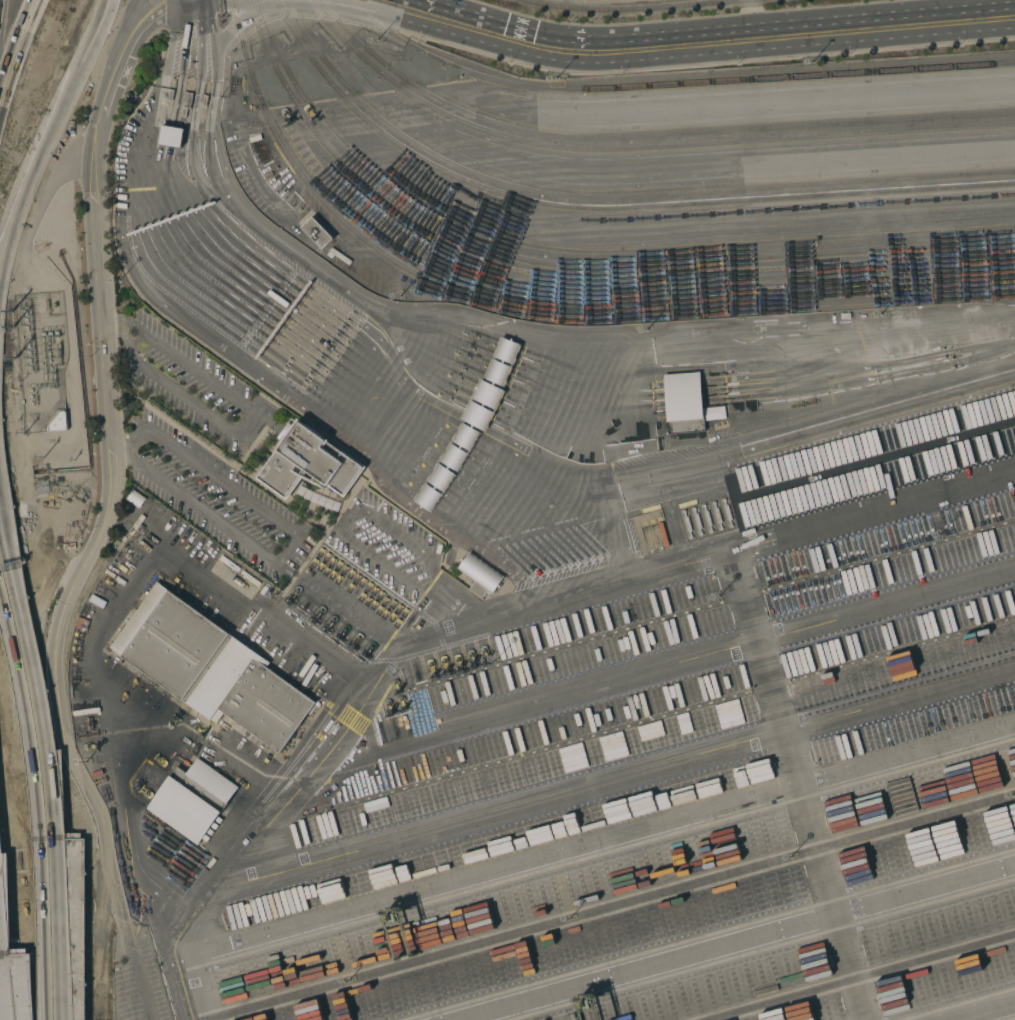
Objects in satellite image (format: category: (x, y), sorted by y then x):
road: (392, 0)
road: (3, 8)
railway: (642, 9)
road: (698, 40)
road: (15, 43)
railway: (671, 84)
road: (213, 85)
building: (170, 95)
building: (205, 101)
building: (185, 104)
road: (49, 128)
building: (171, 136)
railway: (647, 136)
railway: (639, 145)
railway: (613, 197)
railway: (605, 206)
building: (317, 232)
building: (40, 247)
railway: (578, 257)
railway: (571, 265)
railway: (542, 312)
road: (110, 313)
building: (844, 316)
road: (588, 340)
building: (684, 403)
building: (62, 422)
building: (56, 423)
road: (239, 425)
building: (471, 426)
building: (307, 462)
road: (111, 474)
building: (318, 497)
building: (135, 498)
road: (295, 536)
building: (479, 575)
building: (210, 667)
road: (37, 671)
road: (30, 701)
road: (224, 753)
building: (192, 799)
road: (154, 888)
road: (143, 921)
road: (54, 928)
road: (737, 942)
road: (140, 983)
road: (120, 984)
road: (0, 1014)

